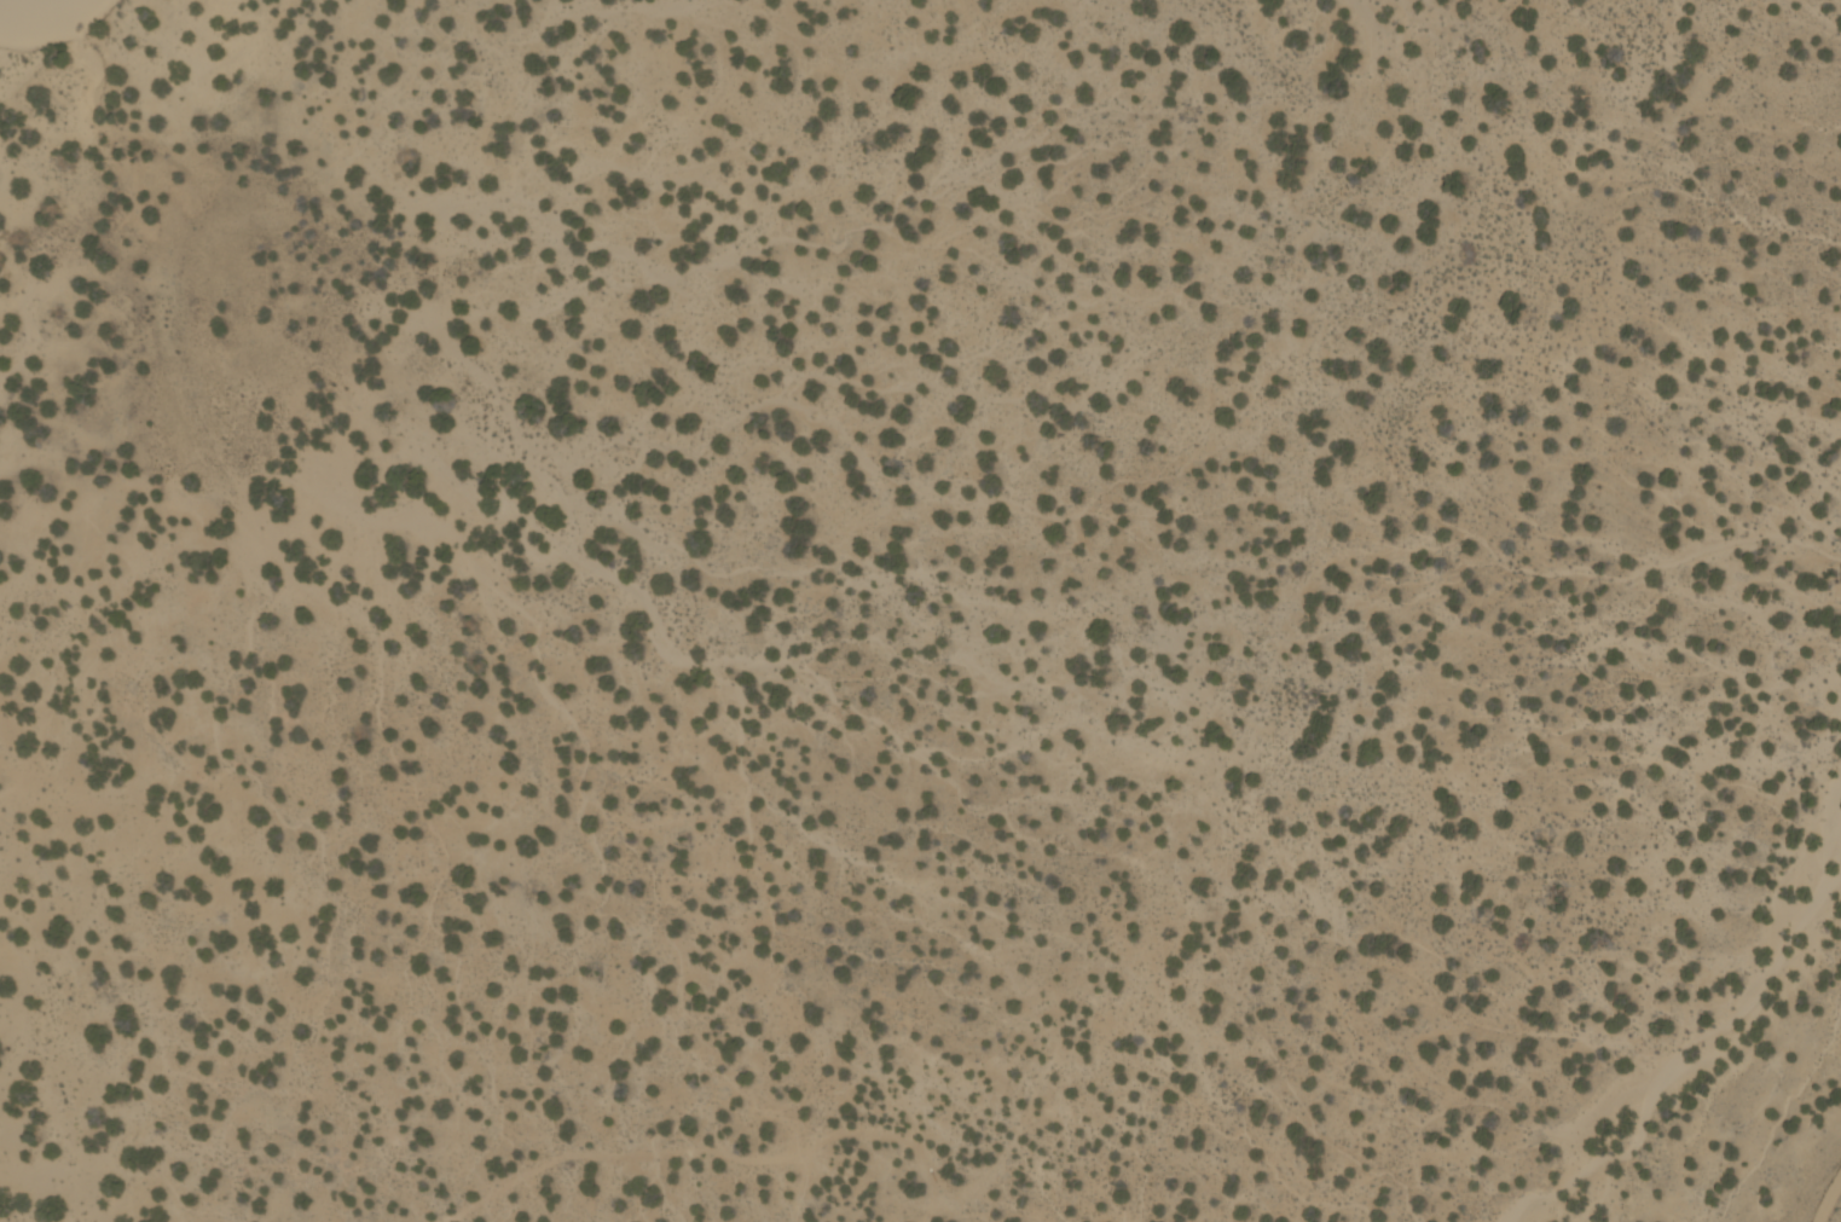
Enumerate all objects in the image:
road: (1829, 1204)

